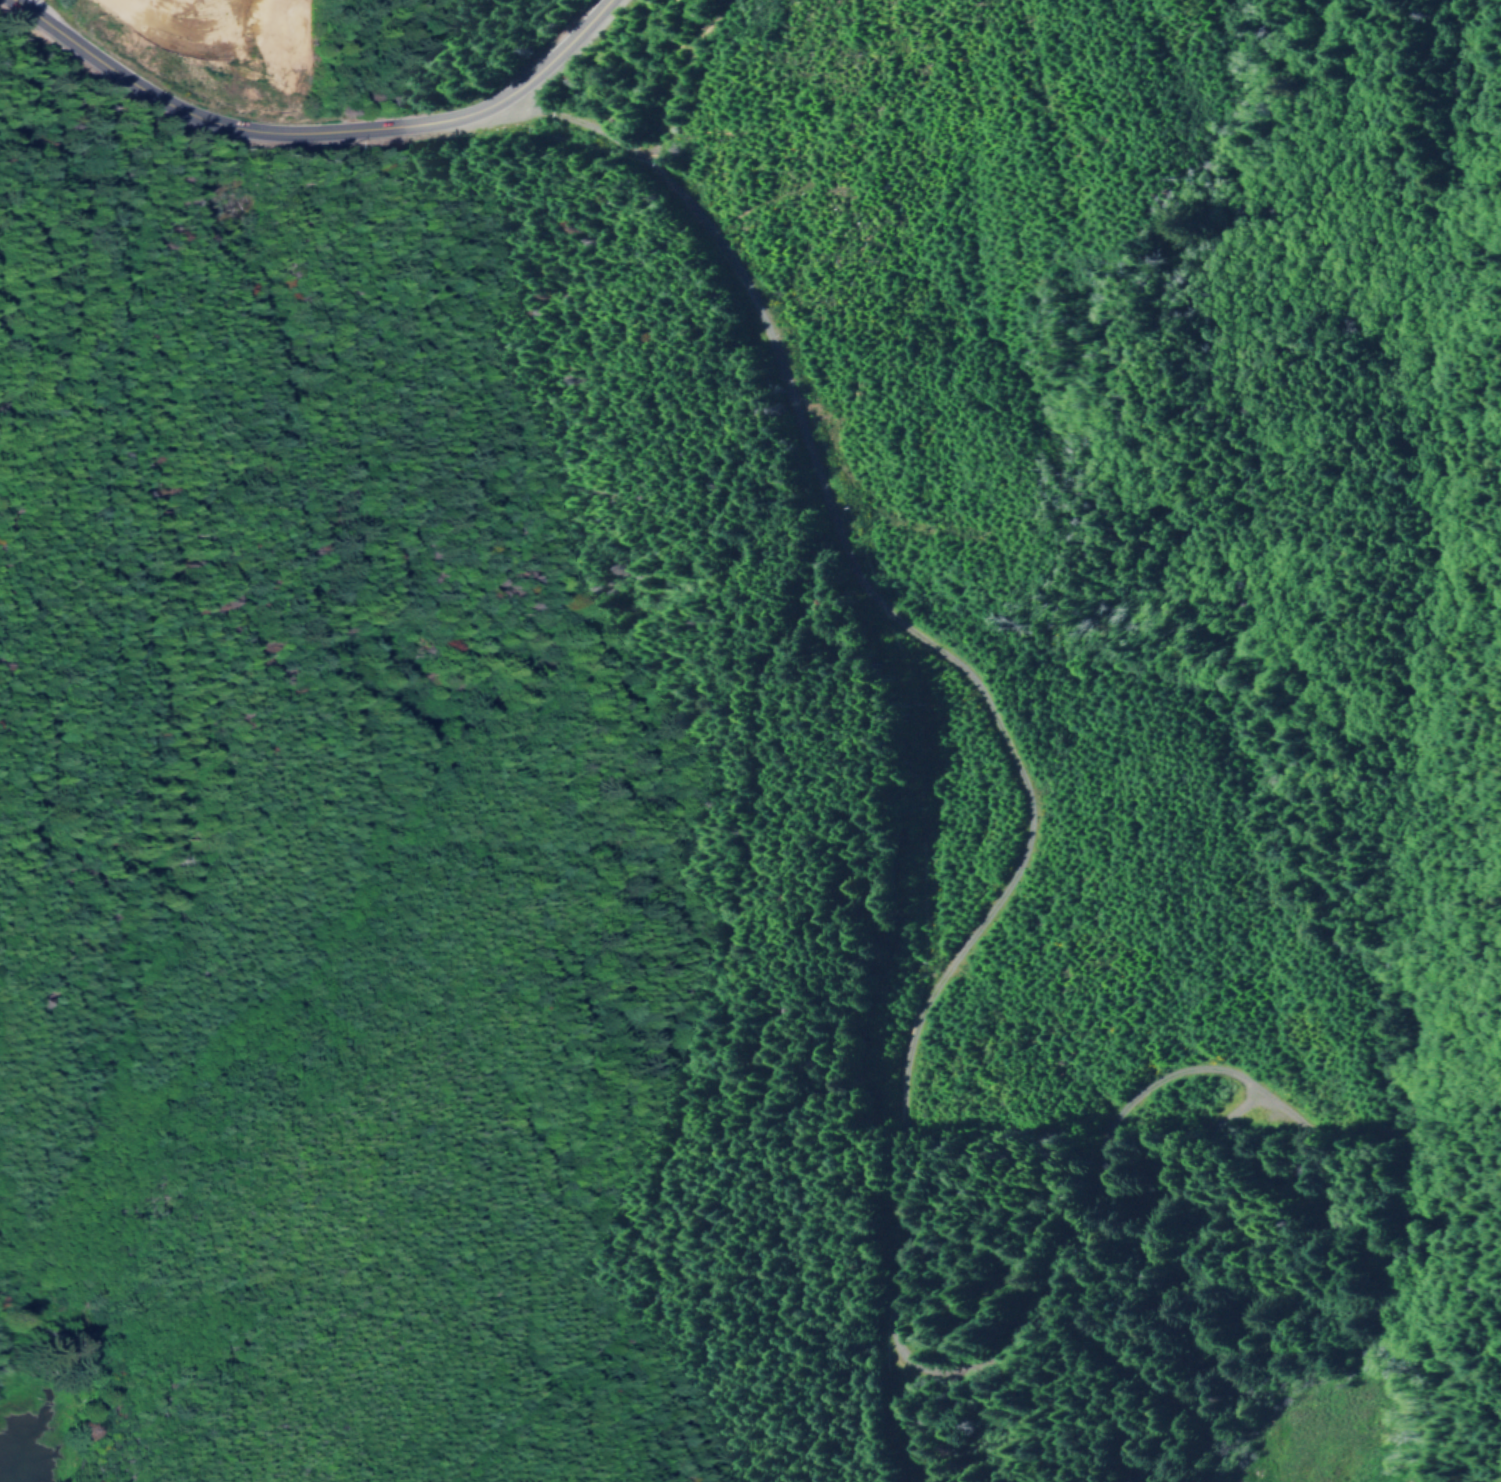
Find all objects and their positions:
road: (308, 131)
road: (890, 1088)
road: (1130, 1266)

